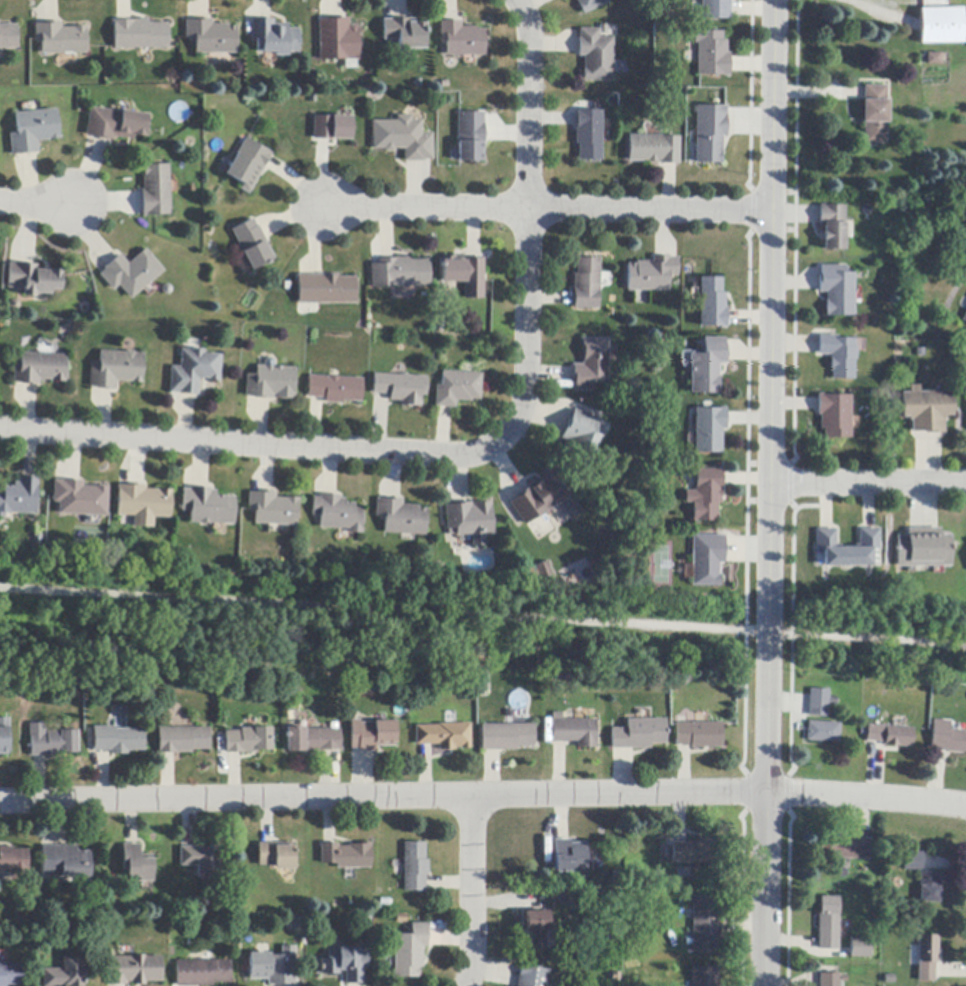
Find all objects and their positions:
building: (590, 5)
building: (715, 9)
building: (942, 26)
building: (404, 33)
building: (140, 35)
building: (8, 37)
building: (211, 37)
building: (274, 38)
building: (60, 39)
building: (461, 39)
building: (338, 40)
building: (711, 54)
building: (595, 55)
building: (932, 59)
building: (874, 115)
building: (114, 124)
building: (331, 128)
building: (33, 131)
building: (709, 134)
building: (588, 135)
building: (470, 137)
building: (403, 138)
building: (653, 149)
building: (248, 165)
road: (527, 165)
building: (155, 191)
road: (36, 203)
road: (546, 207)
building: (832, 227)
building: (252, 244)
building: (462, 270)
building: (131, 273)
building: (400, 273)
building: (652, 275)
building: (33, 279)
building: (587, 284)
building: (325, 290)
building: (837, 291)
building: (711, 304)
building: (964, 318)
building: (837, 355)
building: (592, 364)
building: (707, 366)
building: (39, 369)
building: (115, 369)
building: (193, 371)
building: (271, 383)
building: (400, 388)
building: (458, 388)
building: (334, 389)
building: (926, 409)
building: (833, 416)
building: (708, 429)
building: (581, 437)
road: (310, 451)
road: (868, 483)
road: (770, 493)
building: (705, 495)
building: (19, 497)
building: (79, 498)
building: (539, 498)
building: (143, 504)
building: (208, 507)
building: (273, 509)
building: (337, 514)
building: (401, 517)
building: (470, 521)
building: (846, 549)
building: (923, 549)
building: (706, 559)
building: (538, 570)
building: (577, 573)
road: (483, 616)
building: (818, 703)
building: (574, 732)
building: (822, 732)
building: (638, 734)
building: (372, 735)
building: (698, 735)
building: (890, 735)
building: (444, 736)
building: (4, 737)
building: (506, 737)
building: (947, 738)
building: (117, 740)
building: (182, 740)
building: (313, 740)
building: (248, 741)
building: (51, 742)
road: (483, 796)
building: (844, 849)
building: (695, 852)
building: (276, 856)
building: (345, 856)
building: (569, 858)
building: (13, 861)
building: (200, 861)
building: (65, 862)
building: (912, 862)
building: (136, 863)
building: (414, 867)
building: (929, 887)
road: (469, 892)
building: (828, 923)
building: (705, 924)
building: (533, 930)
building: (860, 948)
building: (409, 952)
building: (927, 958)
building: (346, 964)
building: (273, 967)
building: (133, 970)
building: (65, 973)
building: (202, 973)
building: (11, 975)
building: (531, 977)
building: (704, 977)
building: (831, 979)

